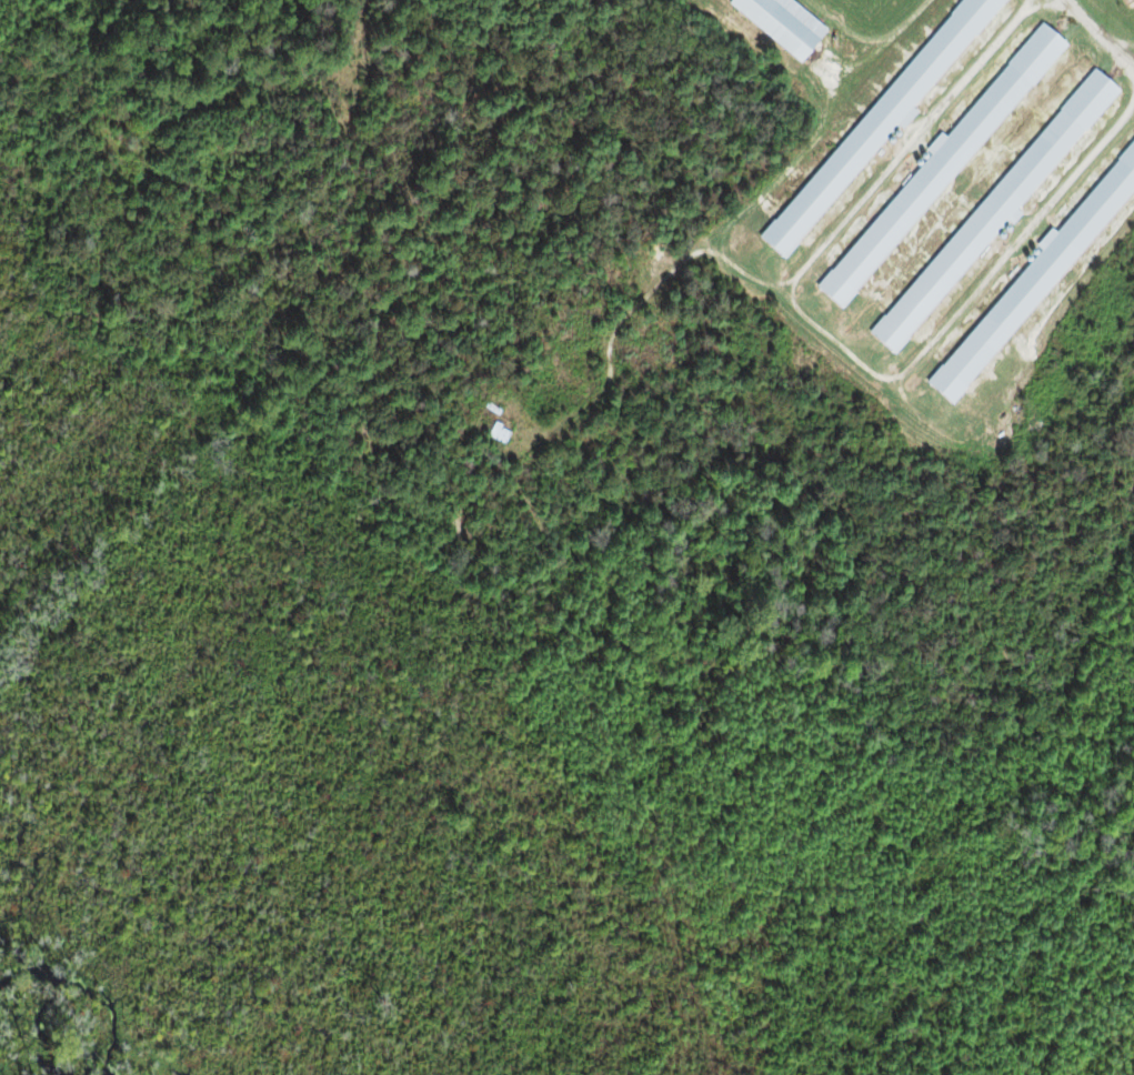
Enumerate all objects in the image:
building: (875, 125)
building: (935, 171)
building: (993, 211)
building: (1033, 281)

